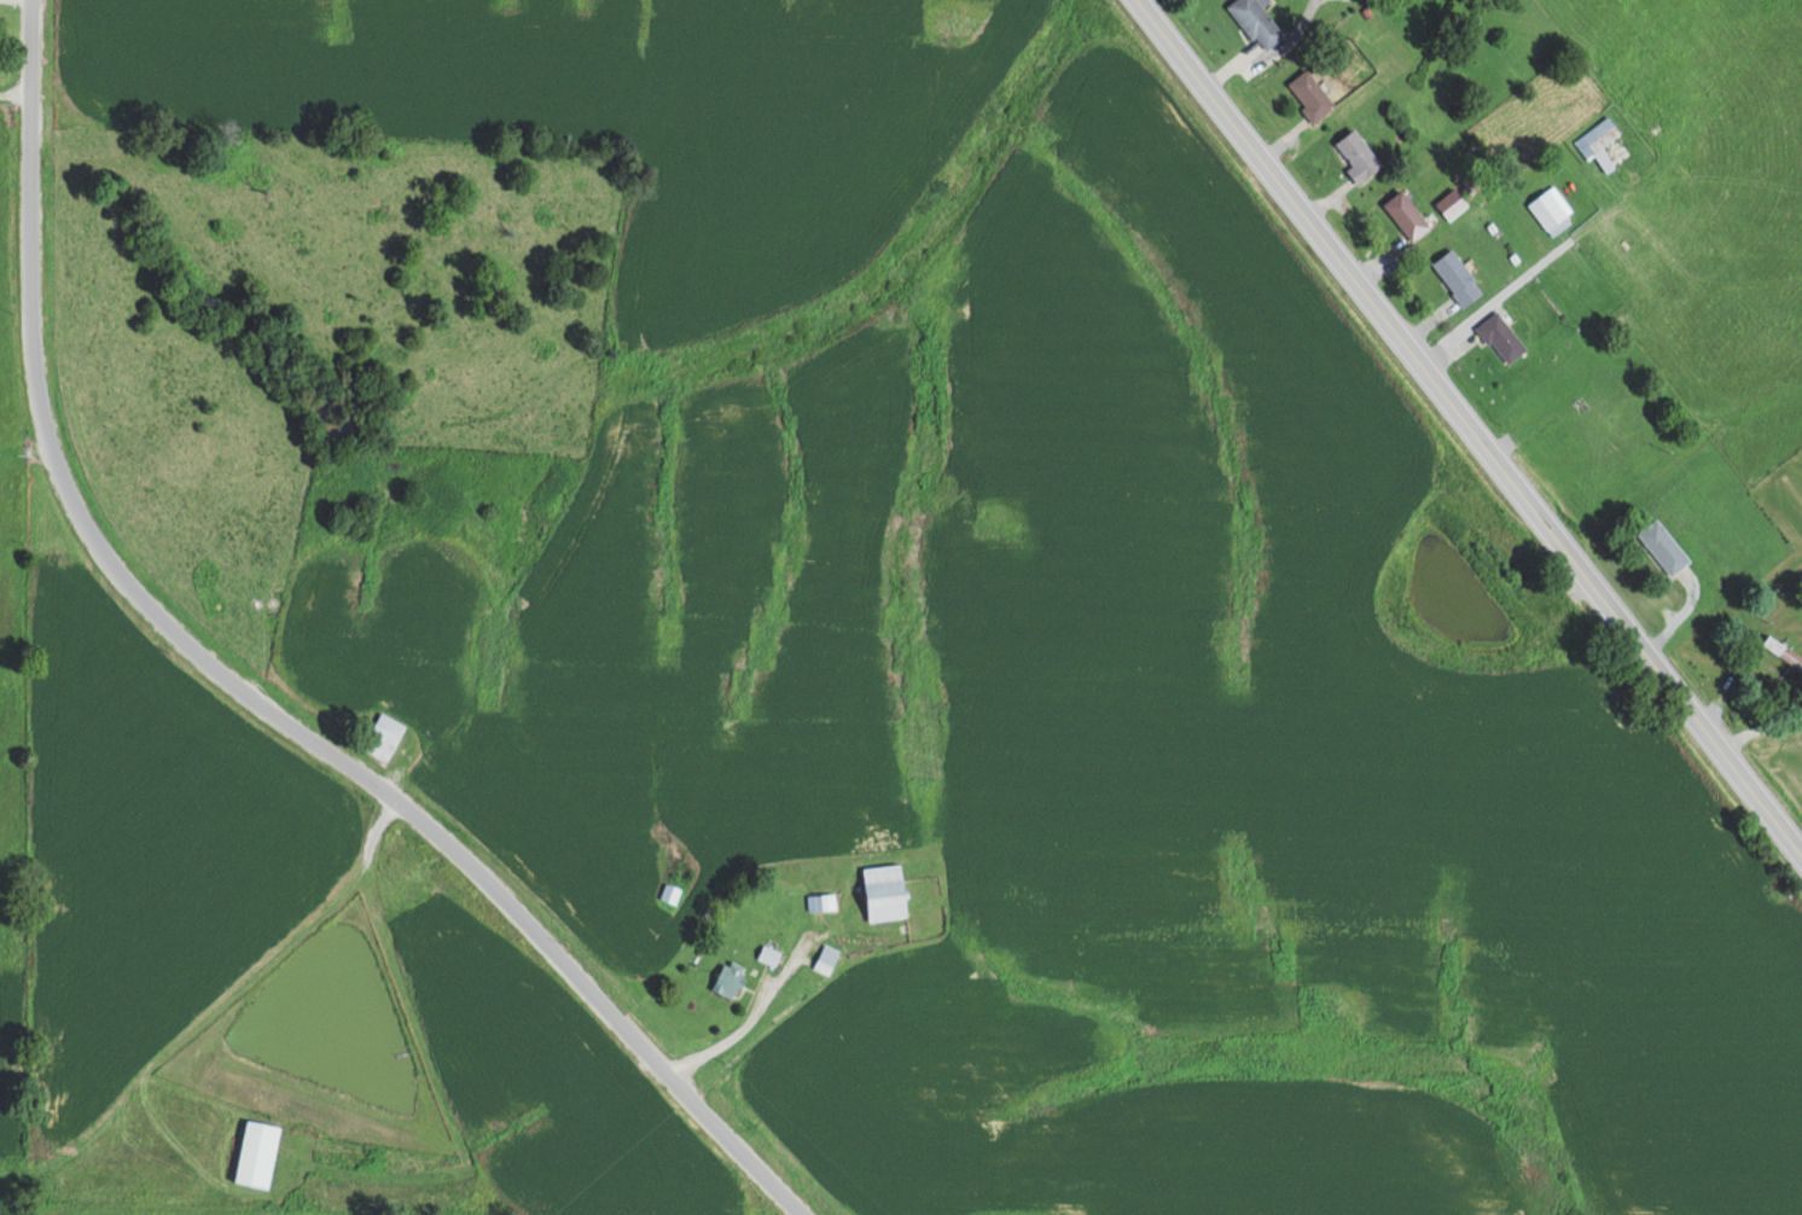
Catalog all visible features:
building: (1257, 22)
building: (1310, 94)
building: (1599, 141)
building: (1359, 157)
building: (1452, 203)
building: (1550, 209)
building: (1407, 214)
building: (1458, 278)
building: (1501, 337)
road: (1470, 424)
building: (1664, 546)
building: (1783, 651)
road: (242, 681)
building: (383, 737)
building: (670, 893)
building: (884, 893)
building: (768, 954)
building: (826, 959)
building: (728, 978)
building: (257, 1153)

